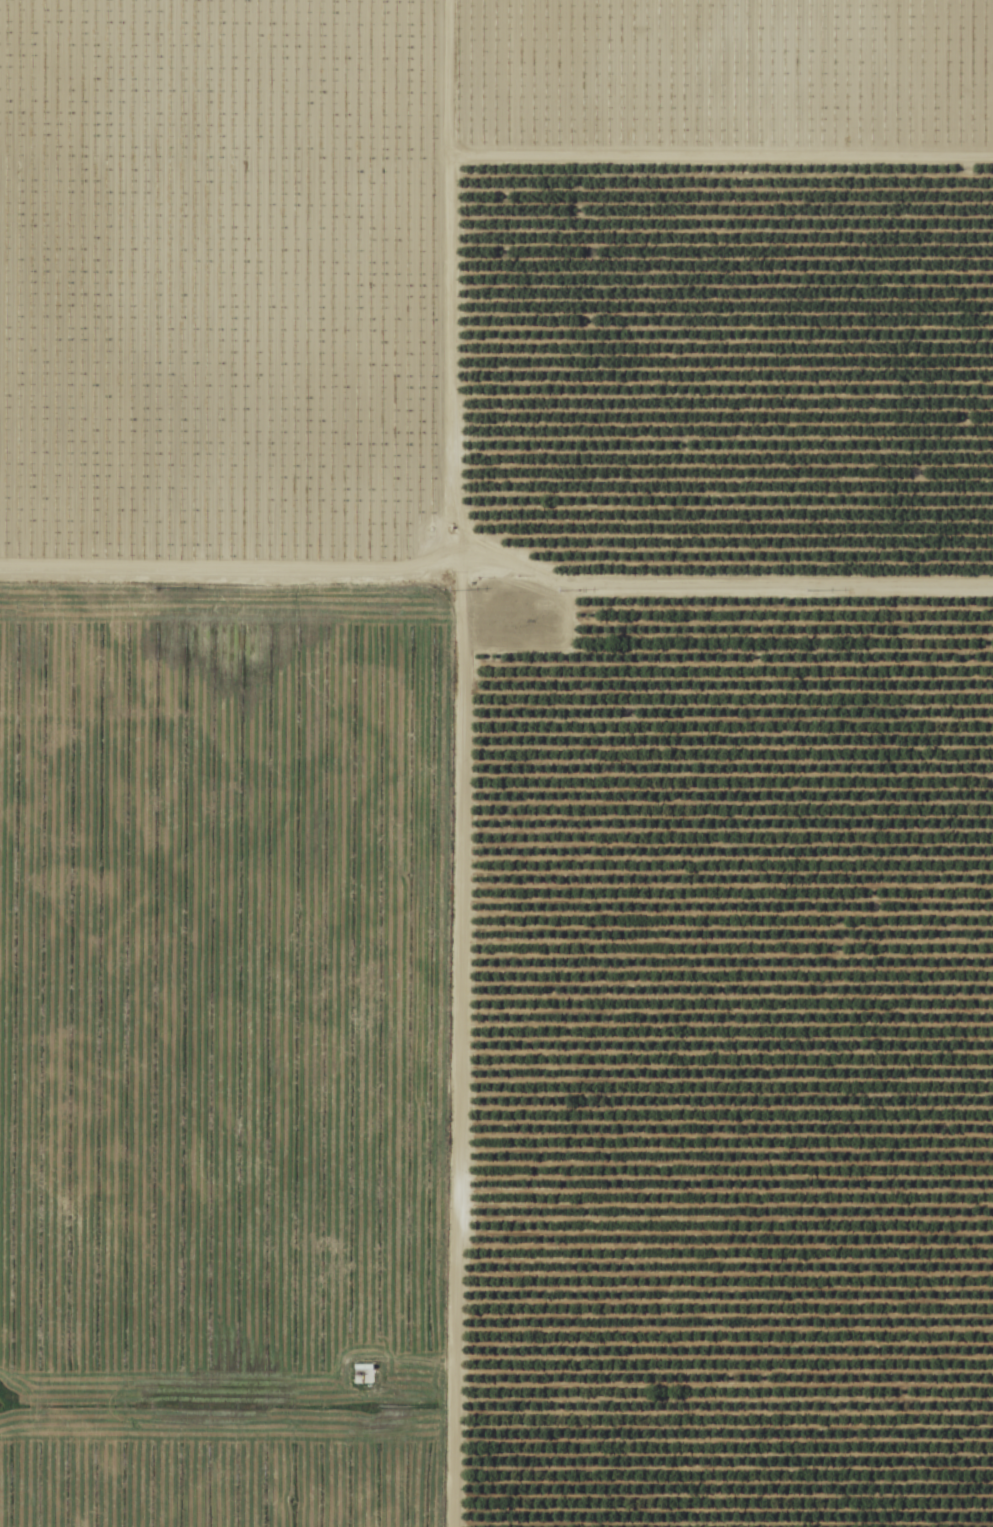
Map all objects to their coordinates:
road: (491, 613)

